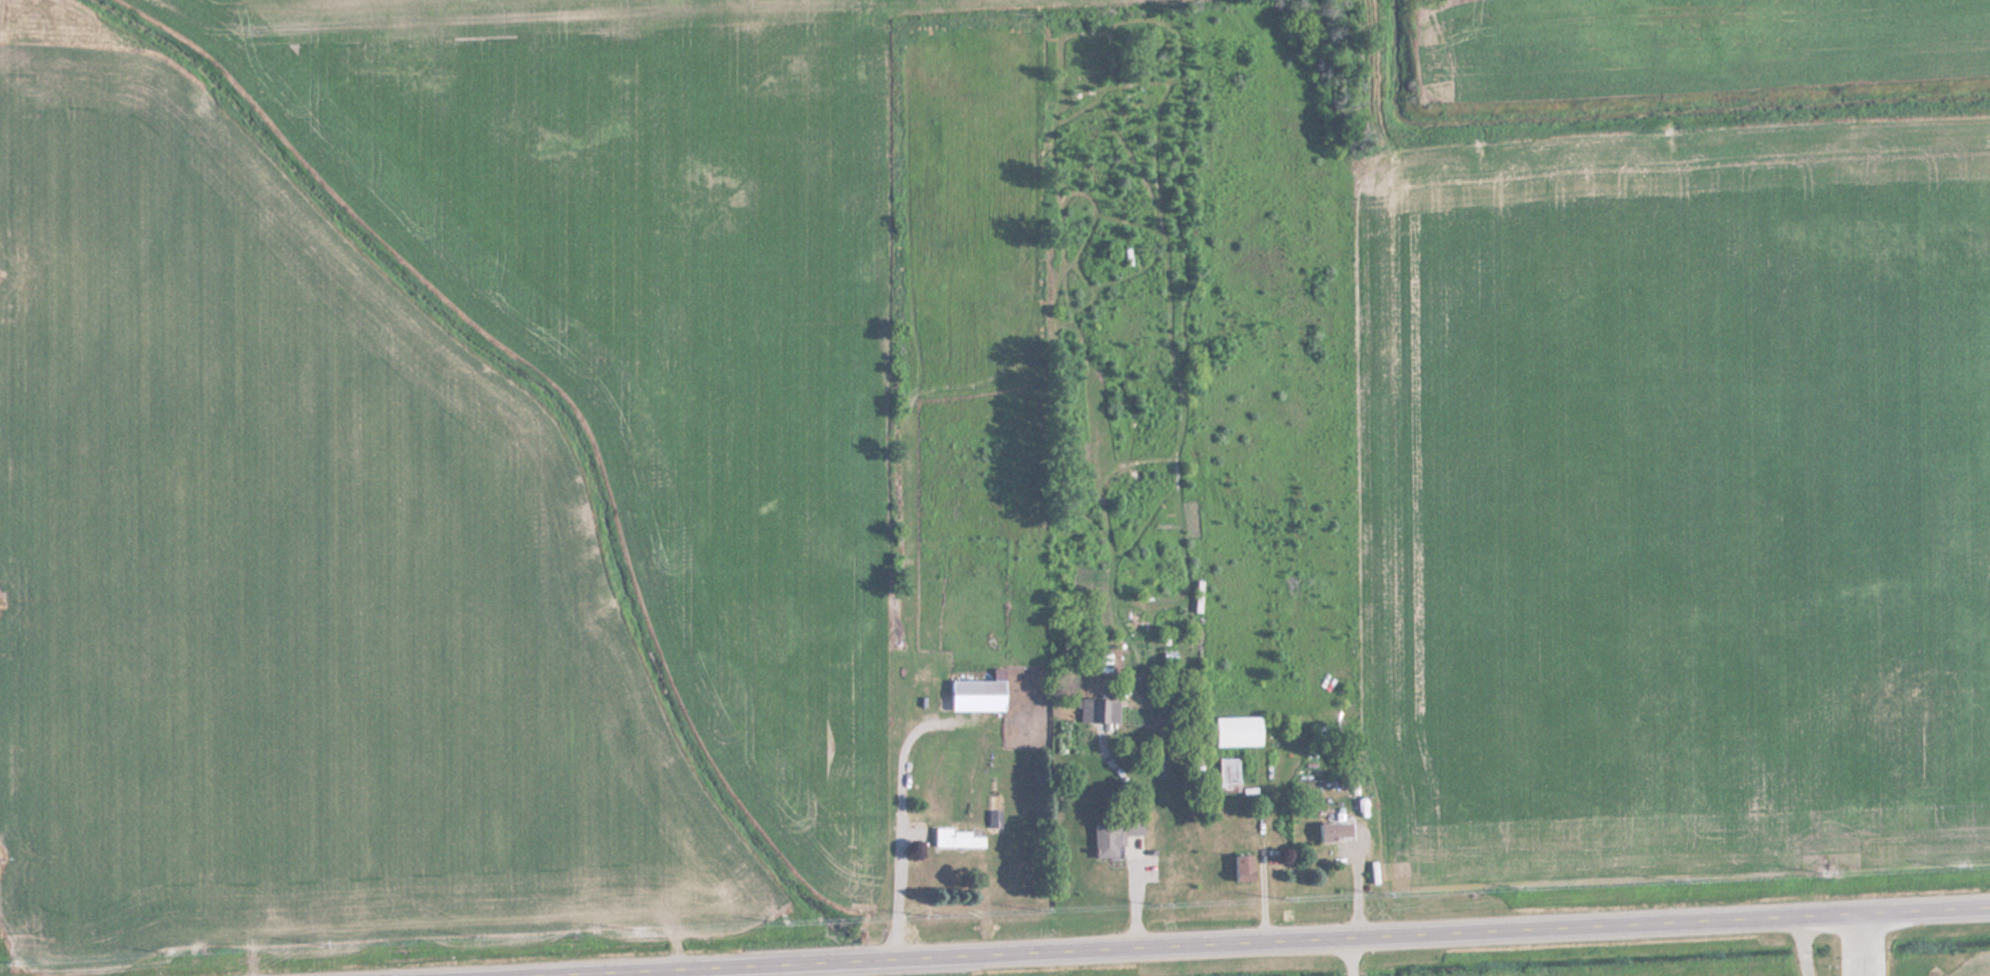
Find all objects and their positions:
building: (979, 694)
building: (1099, 710)
building: (1237, 731)
building: (1229, 774)
building: (994, 818)
building: (1335, 831)
building: (1115, 832)
building: (957, 838)
building: (1243, 868)
road: (1255, 942)

